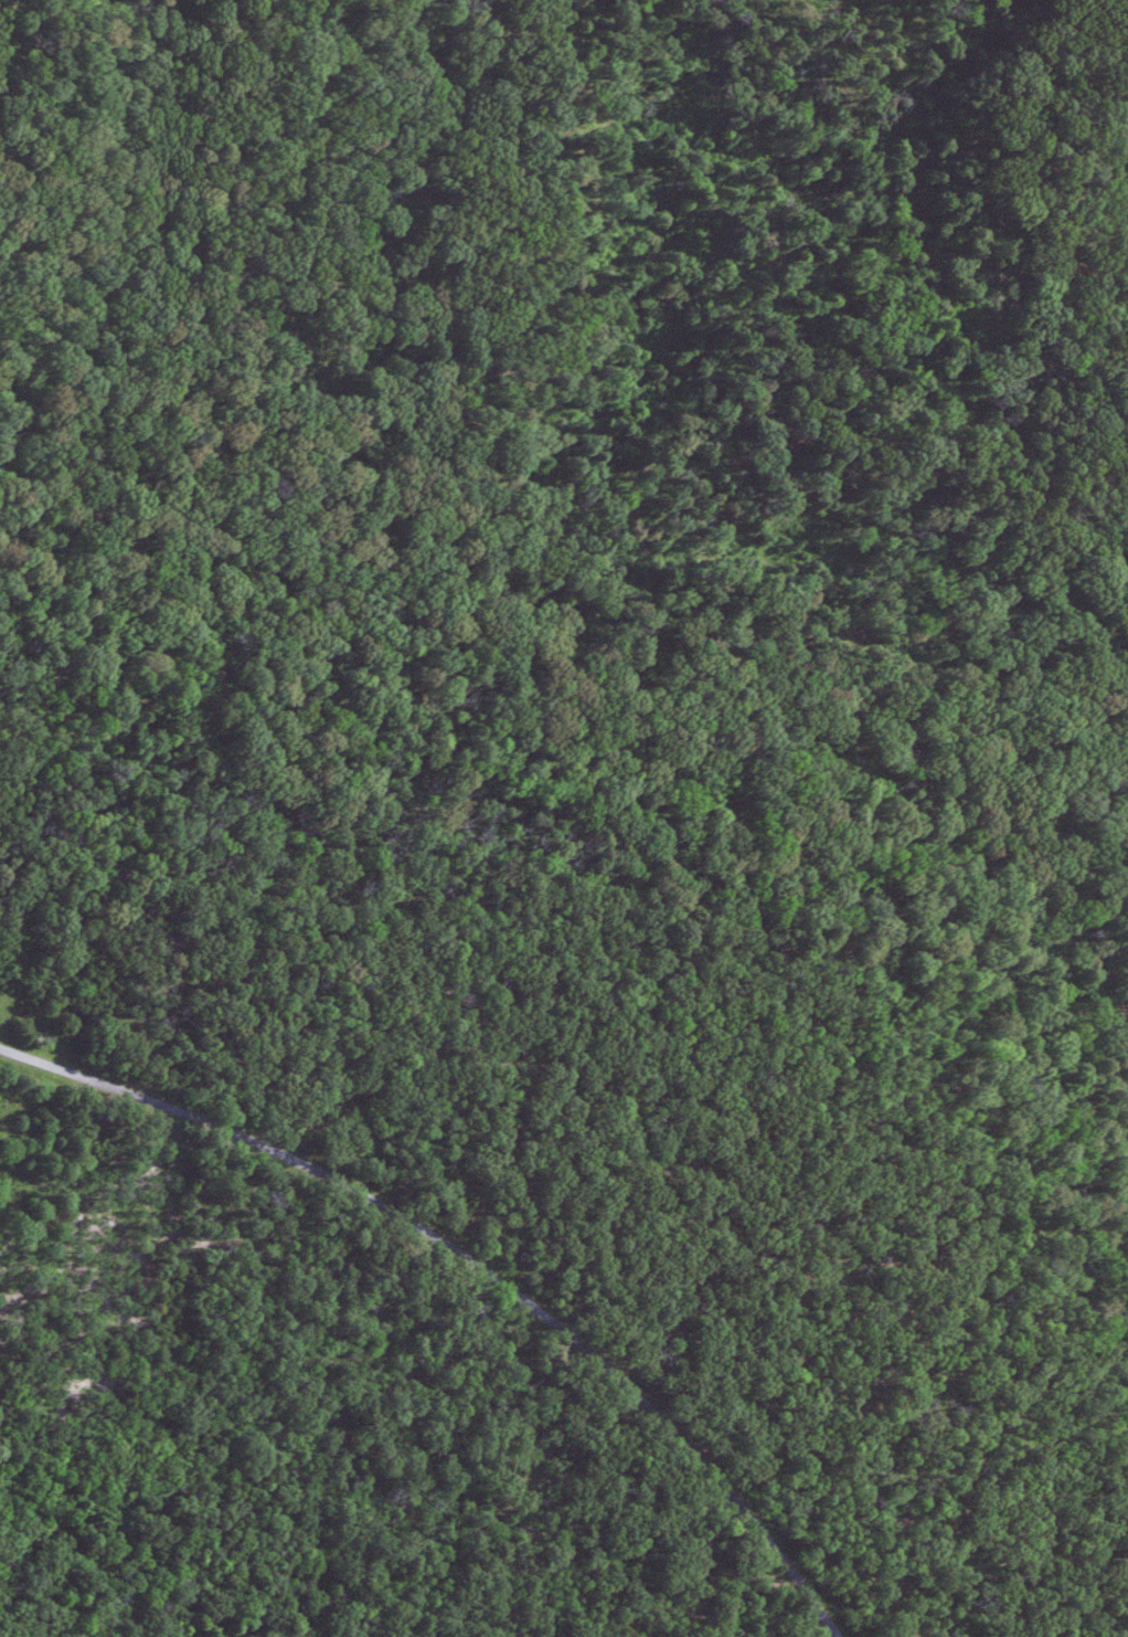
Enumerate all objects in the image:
road: (476, 1261)

